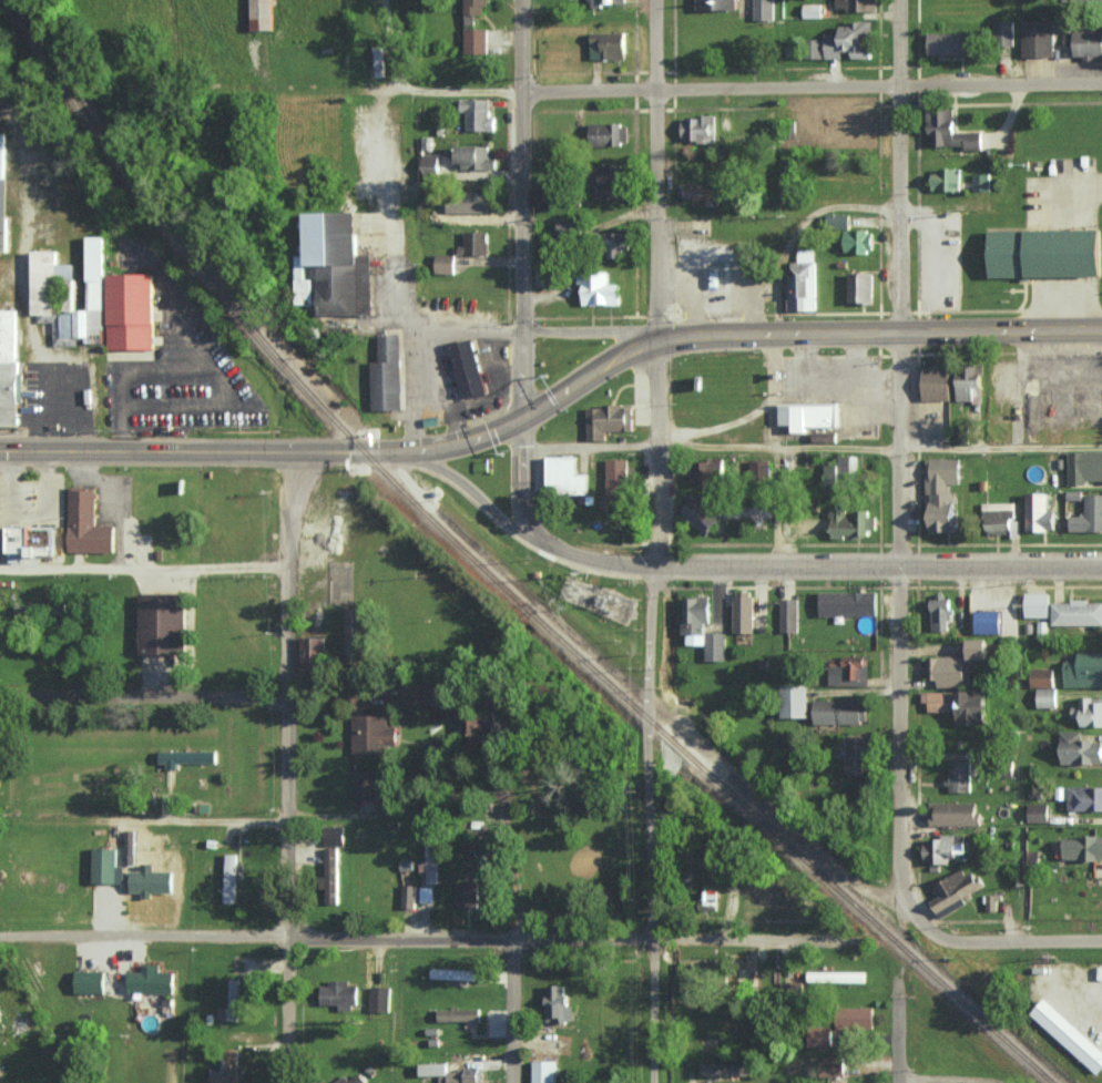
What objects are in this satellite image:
building: (1085, 0)
building: (604, 2)
building: (718, 4)
building: (857, 4)
building: (473, 9)
building: (764, 9)
building: (812, 10)
building: (262, 14)
building: (1003, 33)
building: (1038, 38)
building: (476, 41)
building: (846, 41)
road: (390, 42)
building: (950, 43)
building: (1086, 43)
building: (608, 45)
building: (378, 61)
road: (810, 86)
road: (456, 90)
building: (478, 114)
building: (726, 124)
building: (697, 129)
building: (950, 131)
building: (609, 134)
building: (475, 157)
building: (430, 166)
building: (605, 180)
building: (947, 180)
building: (981, 182)
building: (702, 193)
building: (3, 197)
building: (476, 200)
road: (519, 205)
building: (837, 221)
building: (858, 241)
building: (475, 243)
building: (614, 244)
building: (1044, 254)
building: (445, 264)
building: (336, 267)
building: (543, 277)
building: (802, 282)
road: (897, 284)
road: (656, 285)
building: (860, 287)
building: (599, 288)
building: (69, 295)
road: (394, 299)
building: (132, 311)
road: (879, 326)
road: (425, 344)
road: (856, 355)
road: (800, 356)
building: (9, 368)
building: (471, 368)
parking lot: (178, 369)
road: (200, 370)
parking lot: (410, 372)
road: (509, 375)
building: (388, 376)
building: (968, 380)
building: (936, 382)
road: (835, 384)
road: (500, 386)
road: (1017, 387)
parking lot: (836, 388)
parking lot: (486, 407)
road: (450, 408)
road: (755, 410)
traffic signals: (519, 411)
building: (812, 417)
building: (610, 421)
building: (826, 438)
road: (589, 447)
road: (777, 447)
road: (1001, 448)
road: (45, 450)
road: (386, 451)
building: (759, 467)
building: (1084, 467)
building: (706, 471)
building: (840, 473)
road: (520, 474)
building: (567, 477)
building: (616, 480)
building: (941, 492)
parking lot: (115, 495)
parking lot: (31, 498)
road: (113, 503)
road: (288, 509)
building: (761, 511)
road: (3, 513)
building: (1039, 513)
road: (29, 514)
building: (700, 514)
building: (1089, 515)
building: (998, 518)
building: (89, 523)
building: (851, 524)
road: (60, 539)
road: (3, 540)
building: (32, 543)
road: (143, 568)
road: (741, 570)
railway: (498, 574)
power substation: (599, 601)
building: (849, 602)
building: (1038, 603)
building: (743, 611)
building: (940, 612)
building: (1077, 612)
building: (788, 614)
building: (987, 621)
building: (164, 624)
building: (702, 626)
building: (353, 631)
building: (978, 647)
building: (312, 652)
building: (949, 670)
building: (1084, 670)
building: (849, 671)
building: (1042, 676)
road: (197, 697)
building: (1047, 697)
building: (794, 699)
building: (940, 701)
building: (971, 705)
building: (840, 711)
building: (1089, 711)
building: (482, 728)
building: (373, 733)
road: (901, 748)
building: (1080, 748)
building: (857, 754)
building: (186, 756)
building: (959, 775)
building: (366, 784)
building: (1084, 797)
building: (1038, 811)
building: (953, 813)
road: (197, 818)
road: (287, 824)
road: (647, 826)
building: (130, 846)
building: (1083, 847)
building: (938, 849)
building: (431, 856)
building: (106, 866)
building: (330, 875)
building: (229, 877)
building: (151, 879)
building: (953, 891)
building: (426, 893)
building: (467, 893)
building: (409, 895)
building: (707, 899)
building: (992, 901)
road: (428, 938)
road: (1008, 939)
building: (456, 973)
building: (836, 975)
building: (150, 980)
building: (90, 981)
building: (338, 993)
building: (380, 998)
building: (231, 1002)
building: (558, 1004)
road: (512, 1011)
building: (458, 1014)
building: (856, 1016)
road: (899, 1034)
building: (820, 1035)
building: (1070, 1036)
building: (831, 1066)
building: (0, 1069)
building: (226, 1069)
building: (726, 1069)
building: (543, 1071)
building: (449, 1073)
road: (948, 1077)
building: (349, 1079)

